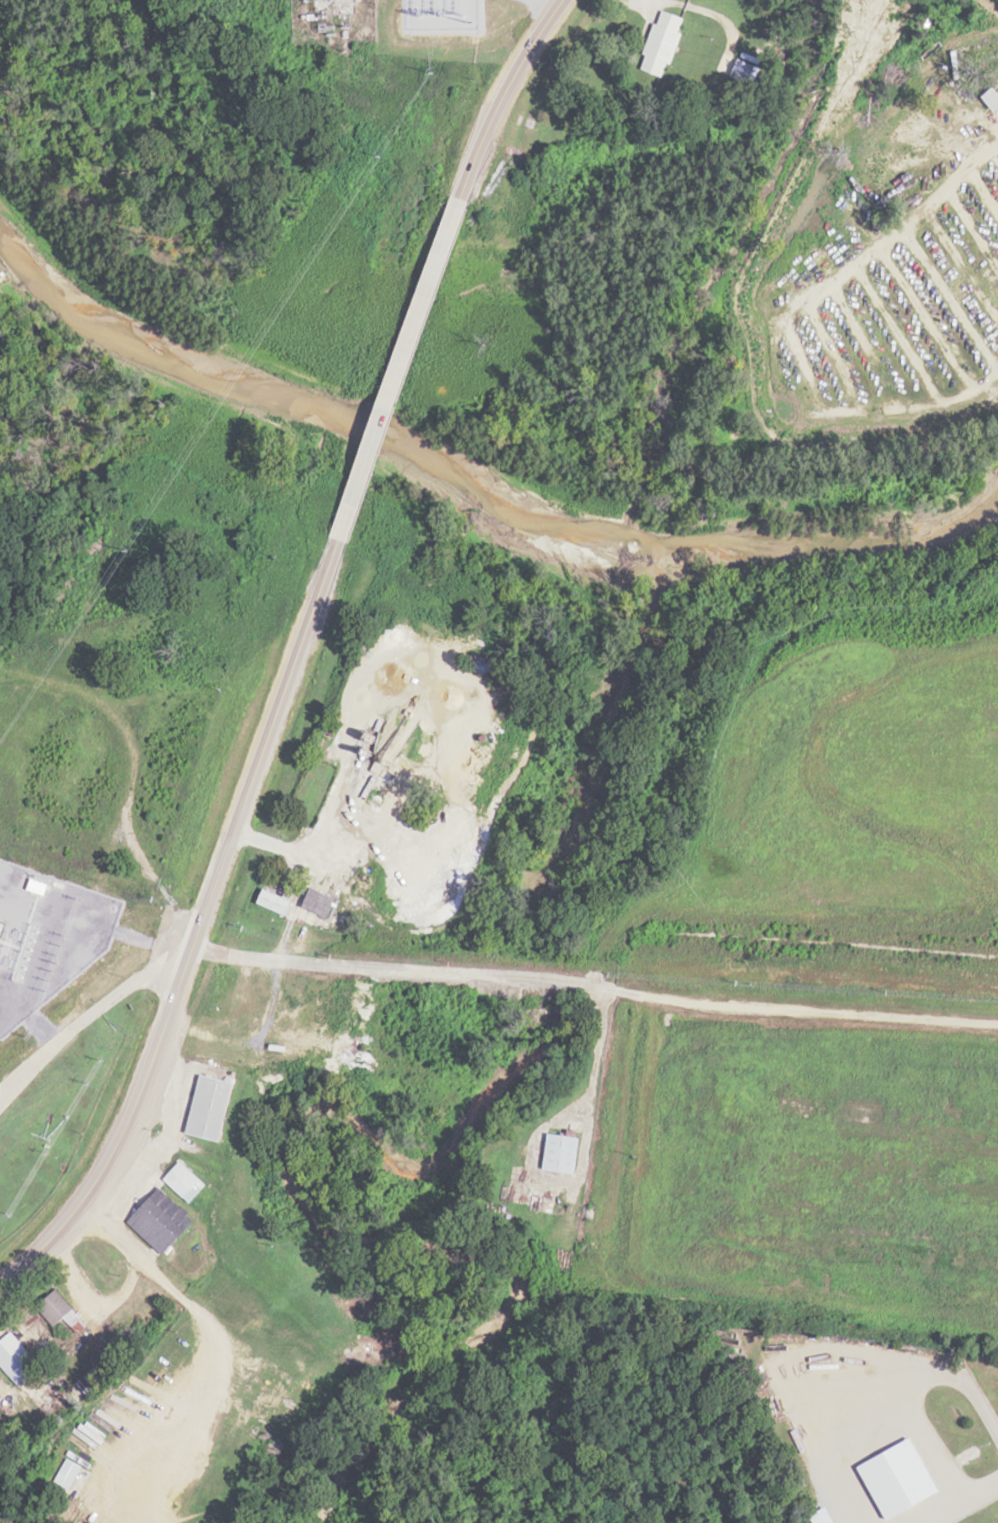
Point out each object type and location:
power substation: (331, 20)
building: (665, 43)
building: (747, 71)
road: (504, 96)
road: (397, 371)
river: (453, 472)
road: (34, 667)
road: (124, 809)
building: (320, 902)
road: (202, 933)
road: (473, 973)
building: (211, 1107)
building: (185, 1181)
building: (168, 1214)
building: (62, 1312)
building: (17, 1360)
building: (94, 1379)
road: (870, 1404)
road: (928, 1441)
building: (223, 1444)
building: (67, 1473)
road: (951, 1497)

